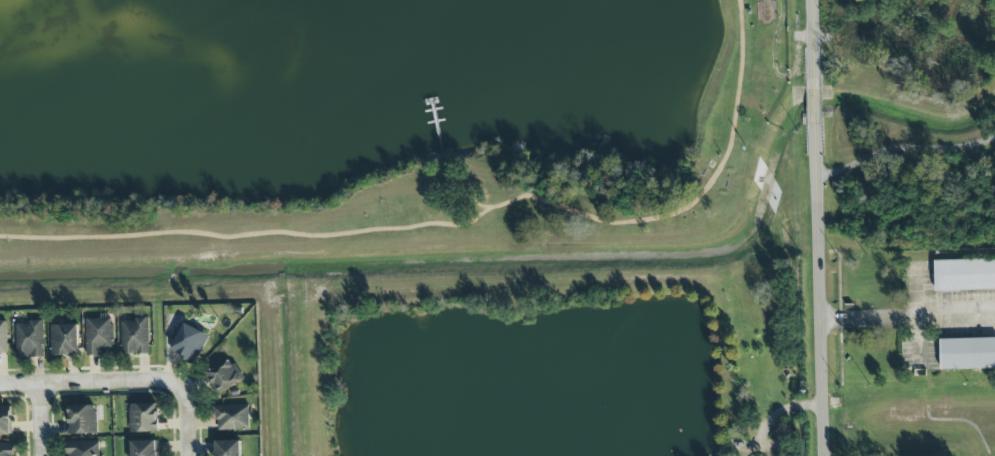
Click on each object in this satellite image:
road: (814, 46)
road: (816, 103)
park: (398, 128)
road: (903, 141)
road: (444, 168)
road: (471, 192)
road: (471, 204)
road: (661, 217)
road: (247, 235)
building: (965, 271)
road: (821, 284)
road: (908, 317)
building: (99, 334)
building: (135, 336)
building: (3, 337)
building: (29, 339)
building: (65, 339)
building: (189, 343)
building: (967, 352)
building: (225, 376)
road: (88, 381)
road: (779, 410)
building: (144, 417)
road: (187, 417)
building: (232, 417)
road: (42, 419)
building: (82, 419)
building: (5, 420)
building: (84, 448)
building: (145, 448)
building: (228, 448)
building: (7, 449)

